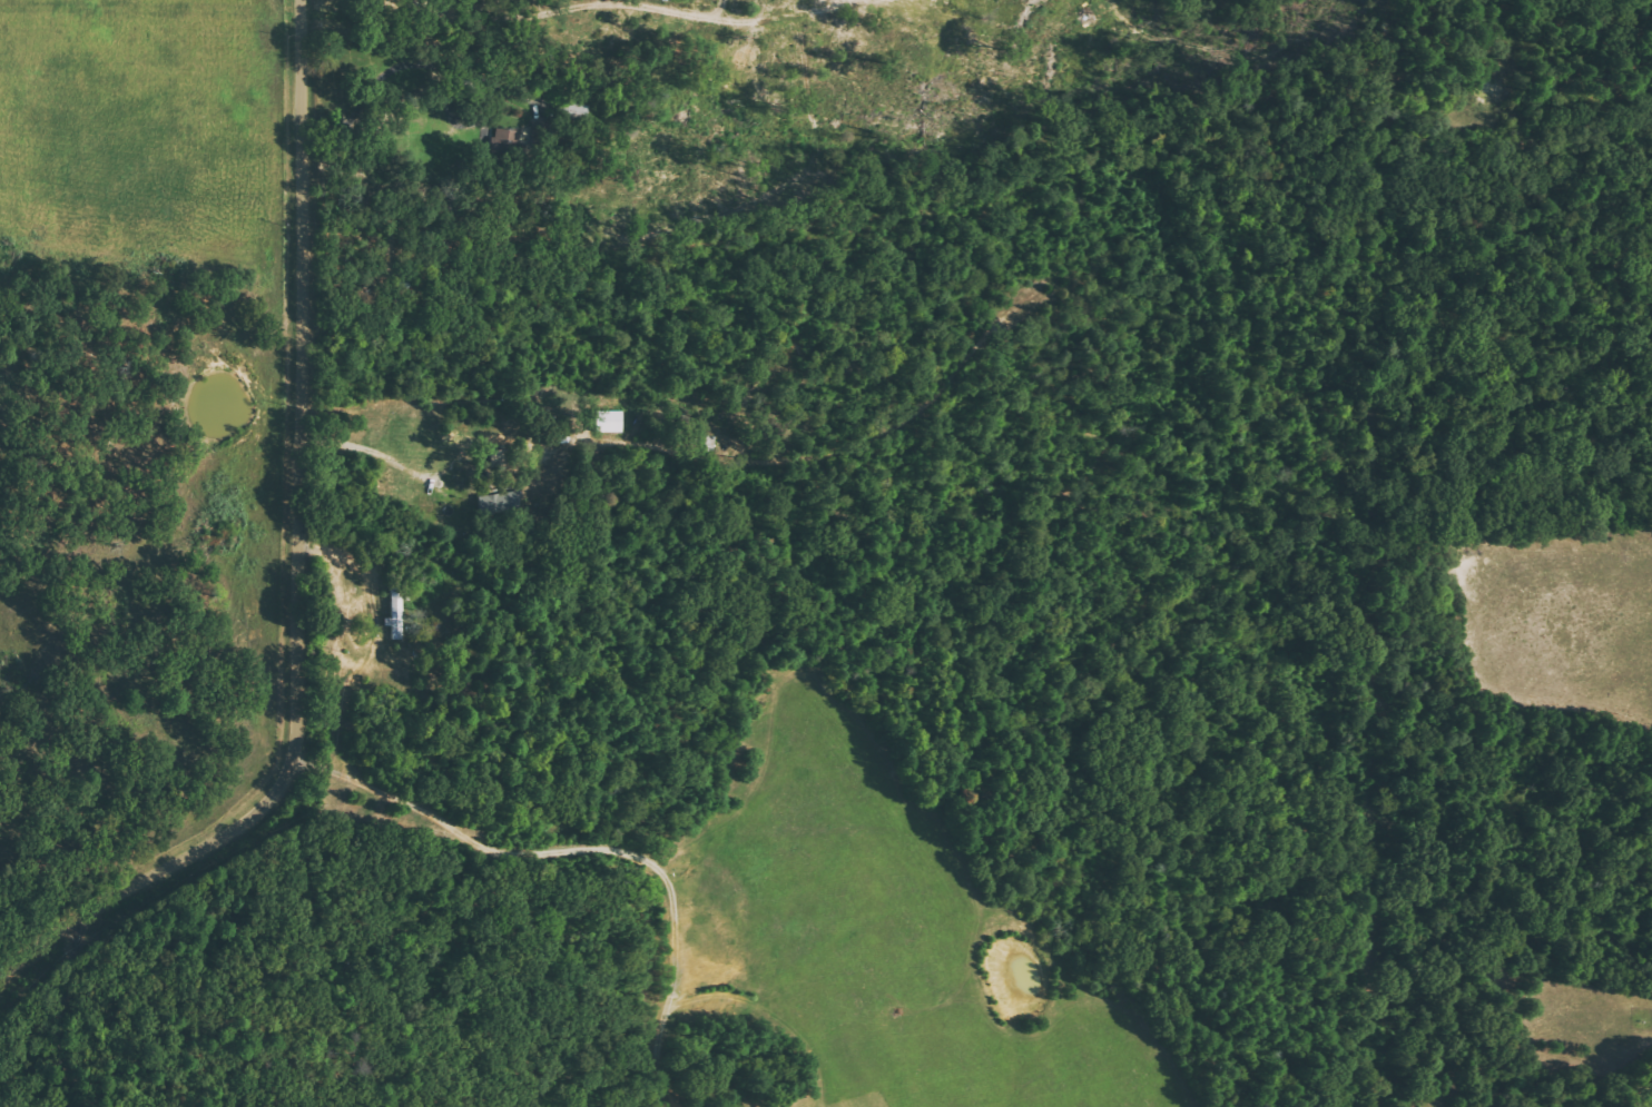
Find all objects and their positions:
building: (504, 142)
building: (604, 421)
road: (298, 571)
road: (63, 1018)

